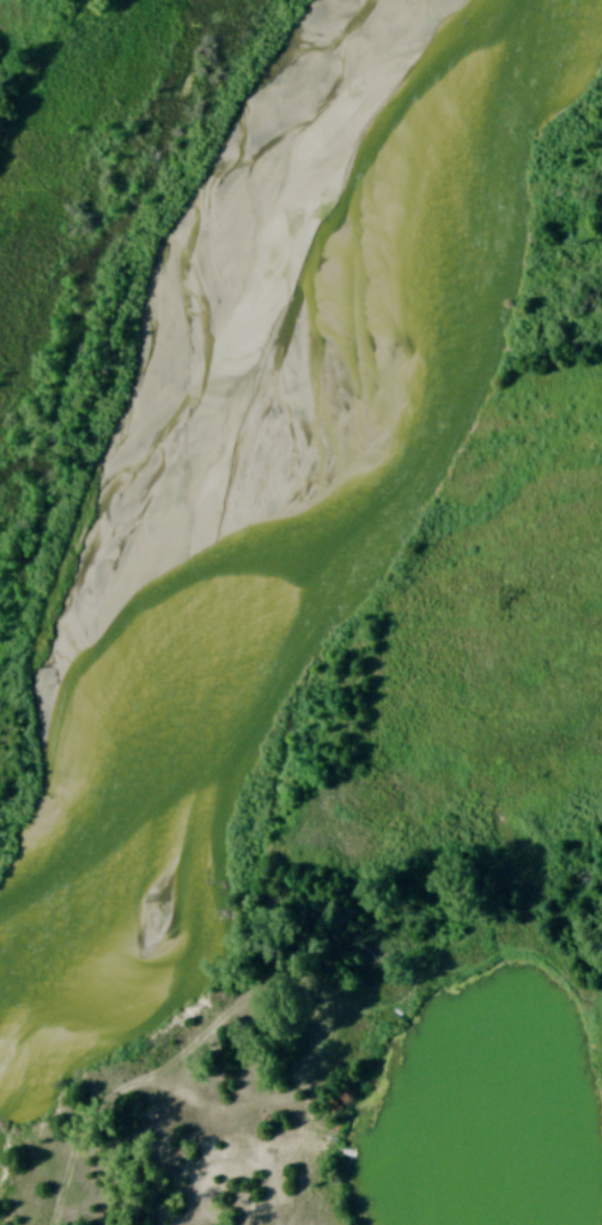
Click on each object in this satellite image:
river: (323, 558)

